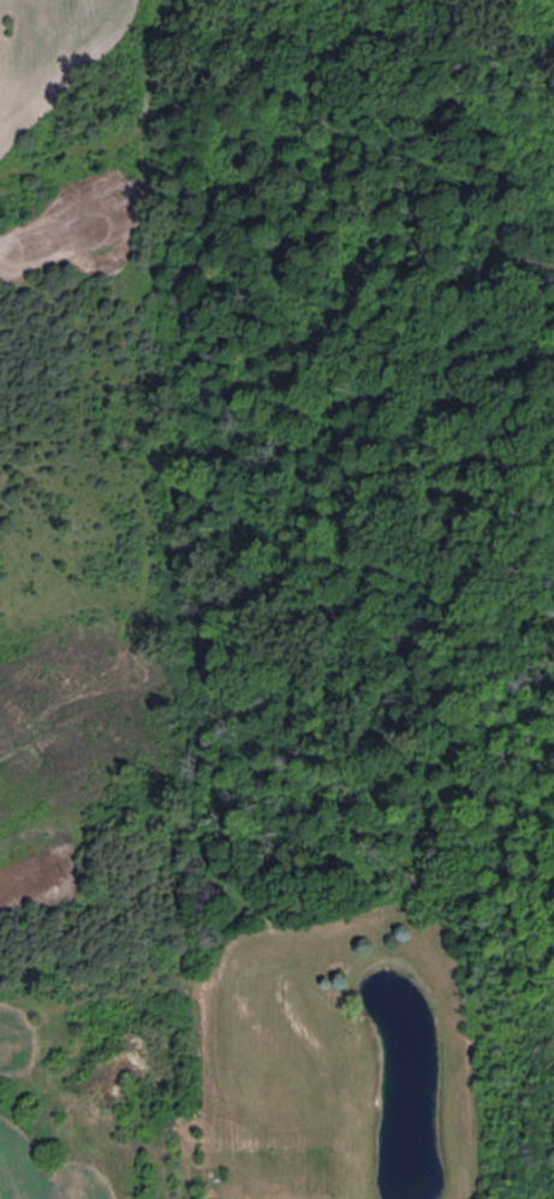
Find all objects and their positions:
building: (210, 1198)

